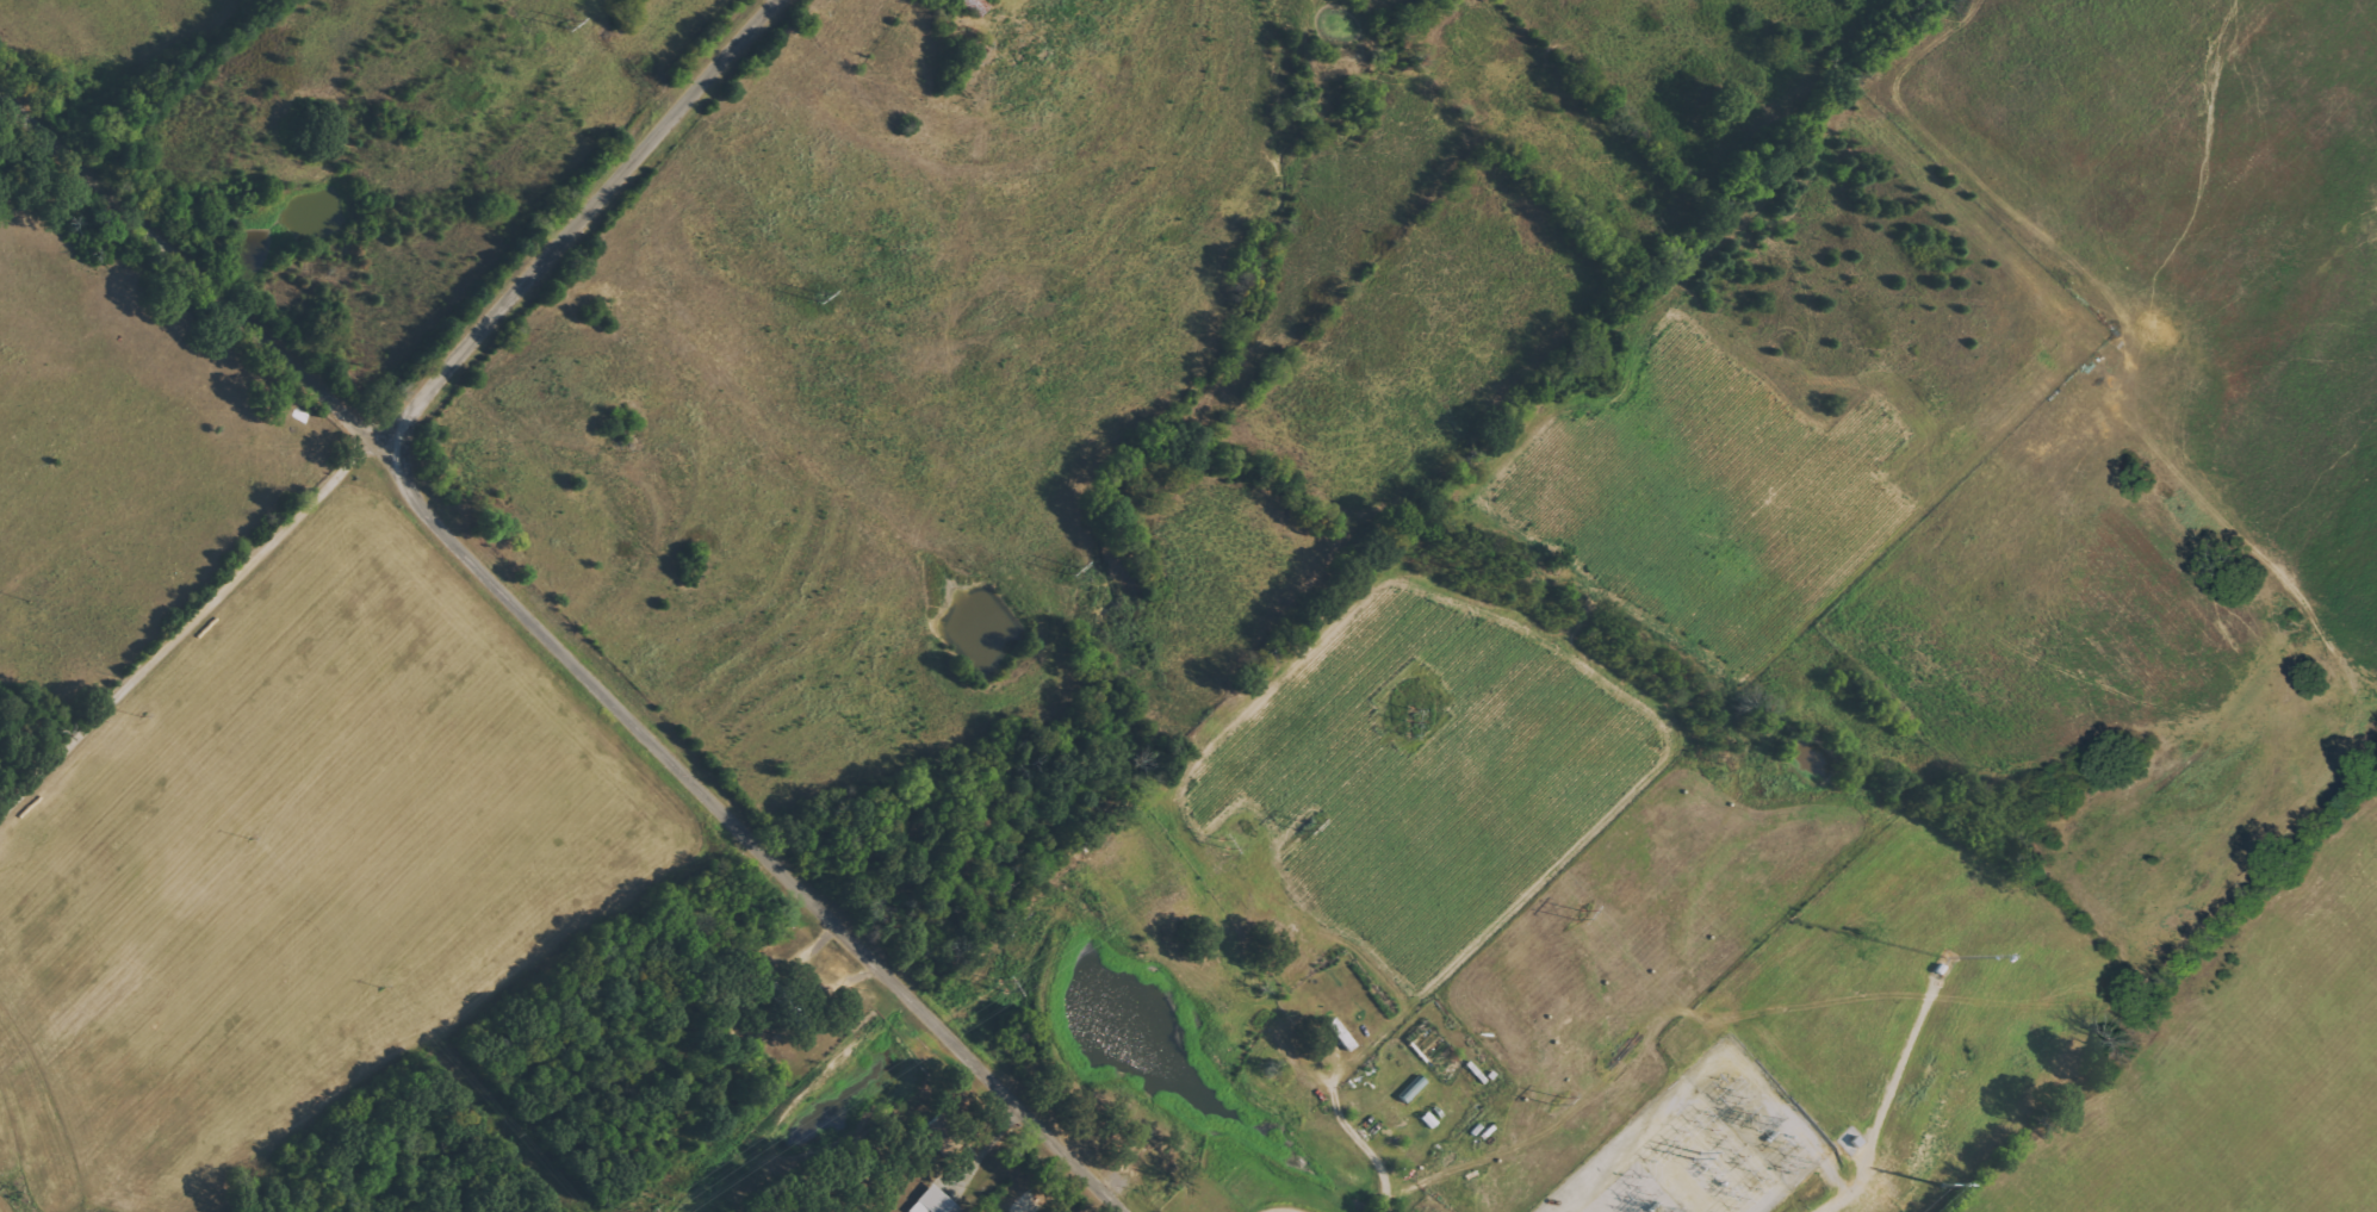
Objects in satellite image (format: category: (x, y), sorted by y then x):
building: (976, 6)
power tower: (566, 25)
road: (570, 218)
road: (184, 253)
power tower: (813, 294)
power tower: (1066, 568)
road: (182, 622)
power tower: (1403, 713)
power tower: (1305, 828)
road: (731, 829)
power tower: (1571, 916)
power tower: (1003, 984)
power tower: (1553, 1096)
building: (944, 1132)
road: (1366, 1143)
power substation: (1700, 1145)
power tower: (1787, 1157)
building: (936, 1201)
road: (1291, 1210)

